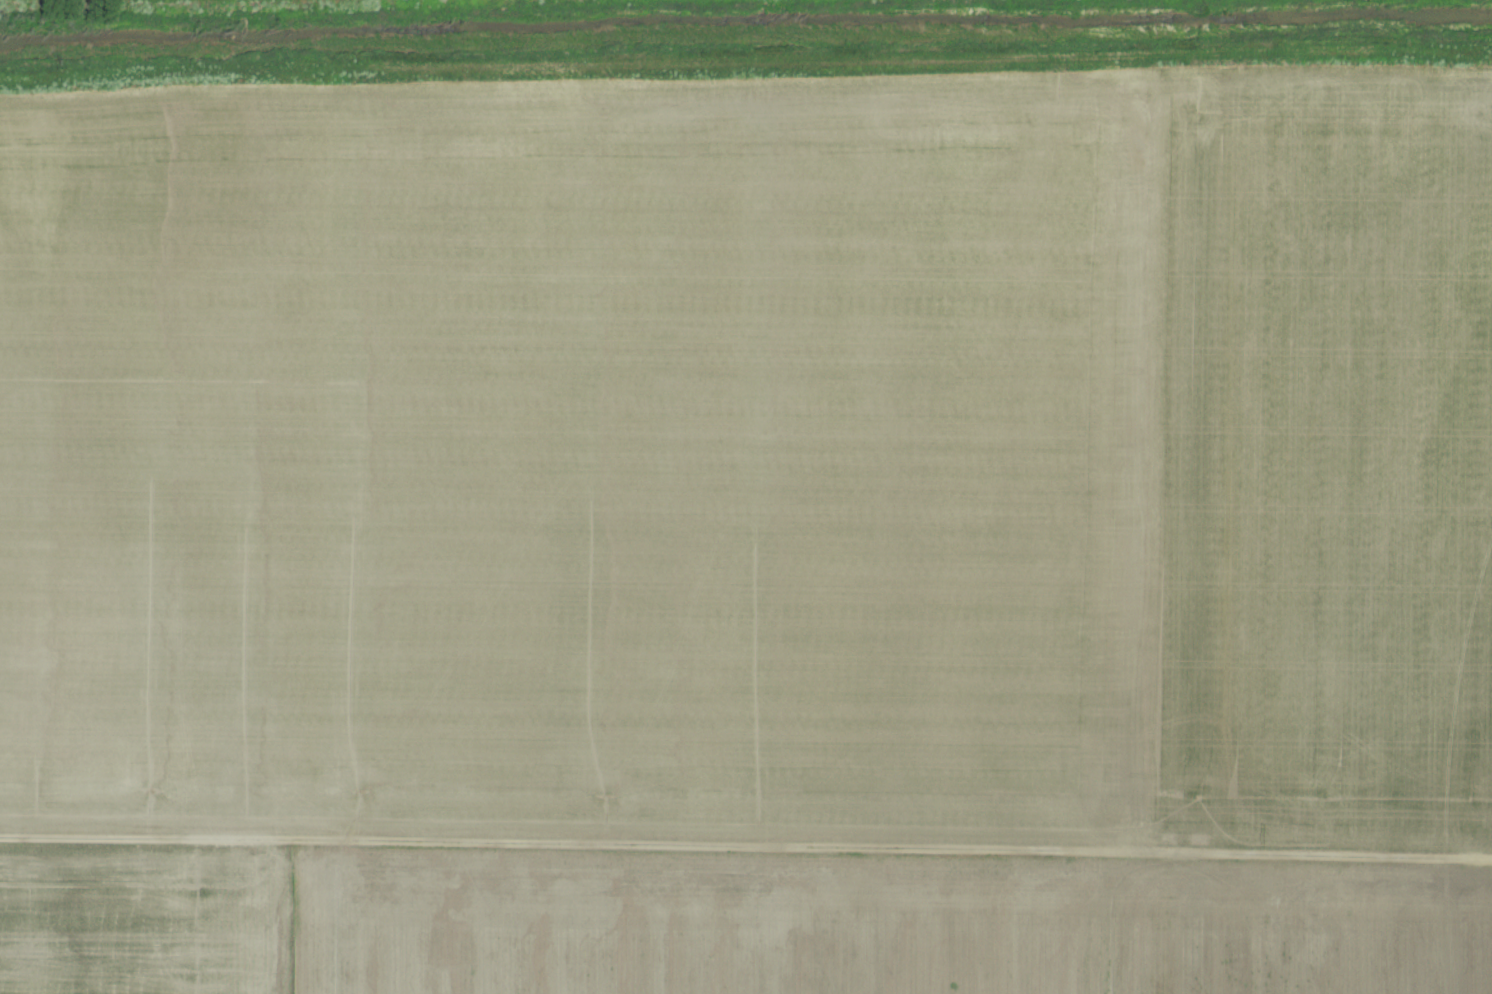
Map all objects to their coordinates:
river: (744, 21)
road: (745, 861)

